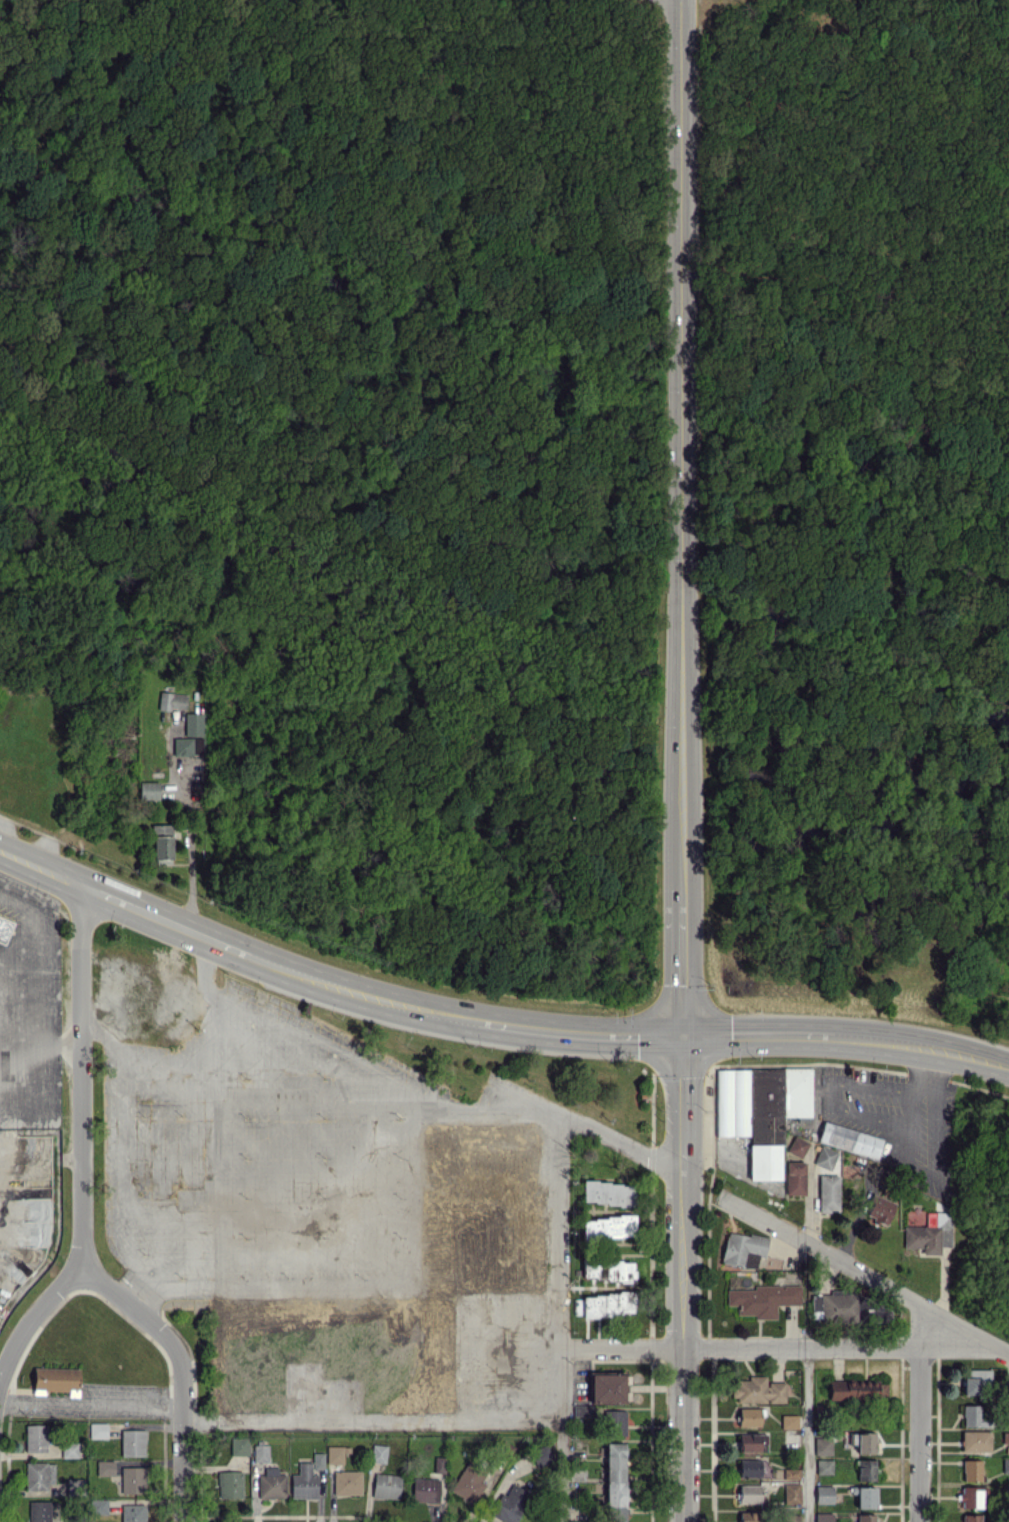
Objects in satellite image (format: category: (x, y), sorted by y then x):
road: (680, 761)
road: (188, 844)
road: (36, 866)
road: (161, 917)
road: (47, 968)
road: (361, 993)
road: (578, 1031)
road: (756, 1036)
traffic signals: (680, 1039)
road: (881, 1044)
road: (184, 1053)
road: (970, 1057)
road: (853, 1083)
road: (918, 1089)
road: (903, 1105)
road: (456, 1106)
building: (761, 1111)
road: (931, 1112)
road: (863, 1114)
road: (586, 1129)
building: (849, 1139)
building: (797, 1146)
road: (116, 1147)
road: (79, 1149)
building: (825, 1157)
building: (794, 1178)
road: (410, 1190)
building: (608, 1193)
building: (828, 1193)
building: (879, 1209)
building: (608, 1227)
building: (928, 1232)
building: (742, 1249)
building: (448, 1261)
road: (557, 1269)
building: (608, 1270)
road: (863, 1275)
building: (763, 1299)
building: (603, 1305)
building: (838, 1305)
road: (152, 1327)
road: (758, 1350)
building: (976, 1381)
building: (607, 1387)
building: (758, 1390)
building: (856, 1390)
road: (92, 1404)
building: (582, 1410)
building: (749, 1416)
building: (973, 1416)
building: (789, 1421)
building: (615, 1422)
road: (373, 1424)
road: (806, 1436)
road: (916, 1436)
building: (1005, 1437)
building: (975, 1440)
building: (863, 1441)
building: (752, 1442)
building: (822, 1446)
building: (541, 1455)
road: (184, 1464)
building: (824, 1466)
building: (750, 1468)
building: (865, 1469)
building: (971, 1470)
road: (563, 1473)
building: (791, 1473)
building: (469, 1482)
building: (615, 1482)
building: (425, 1490)
building: (791, 1492)
building: (749, 1493)
building: (823, 1494)
building: (864, 1496)
building: (971, 1497)
building: (509, 1504)
building: (750, 1516)
building: (823, 1517)
building: (866, 1517)
building: (791, 1518)
building: (971, 1518)

